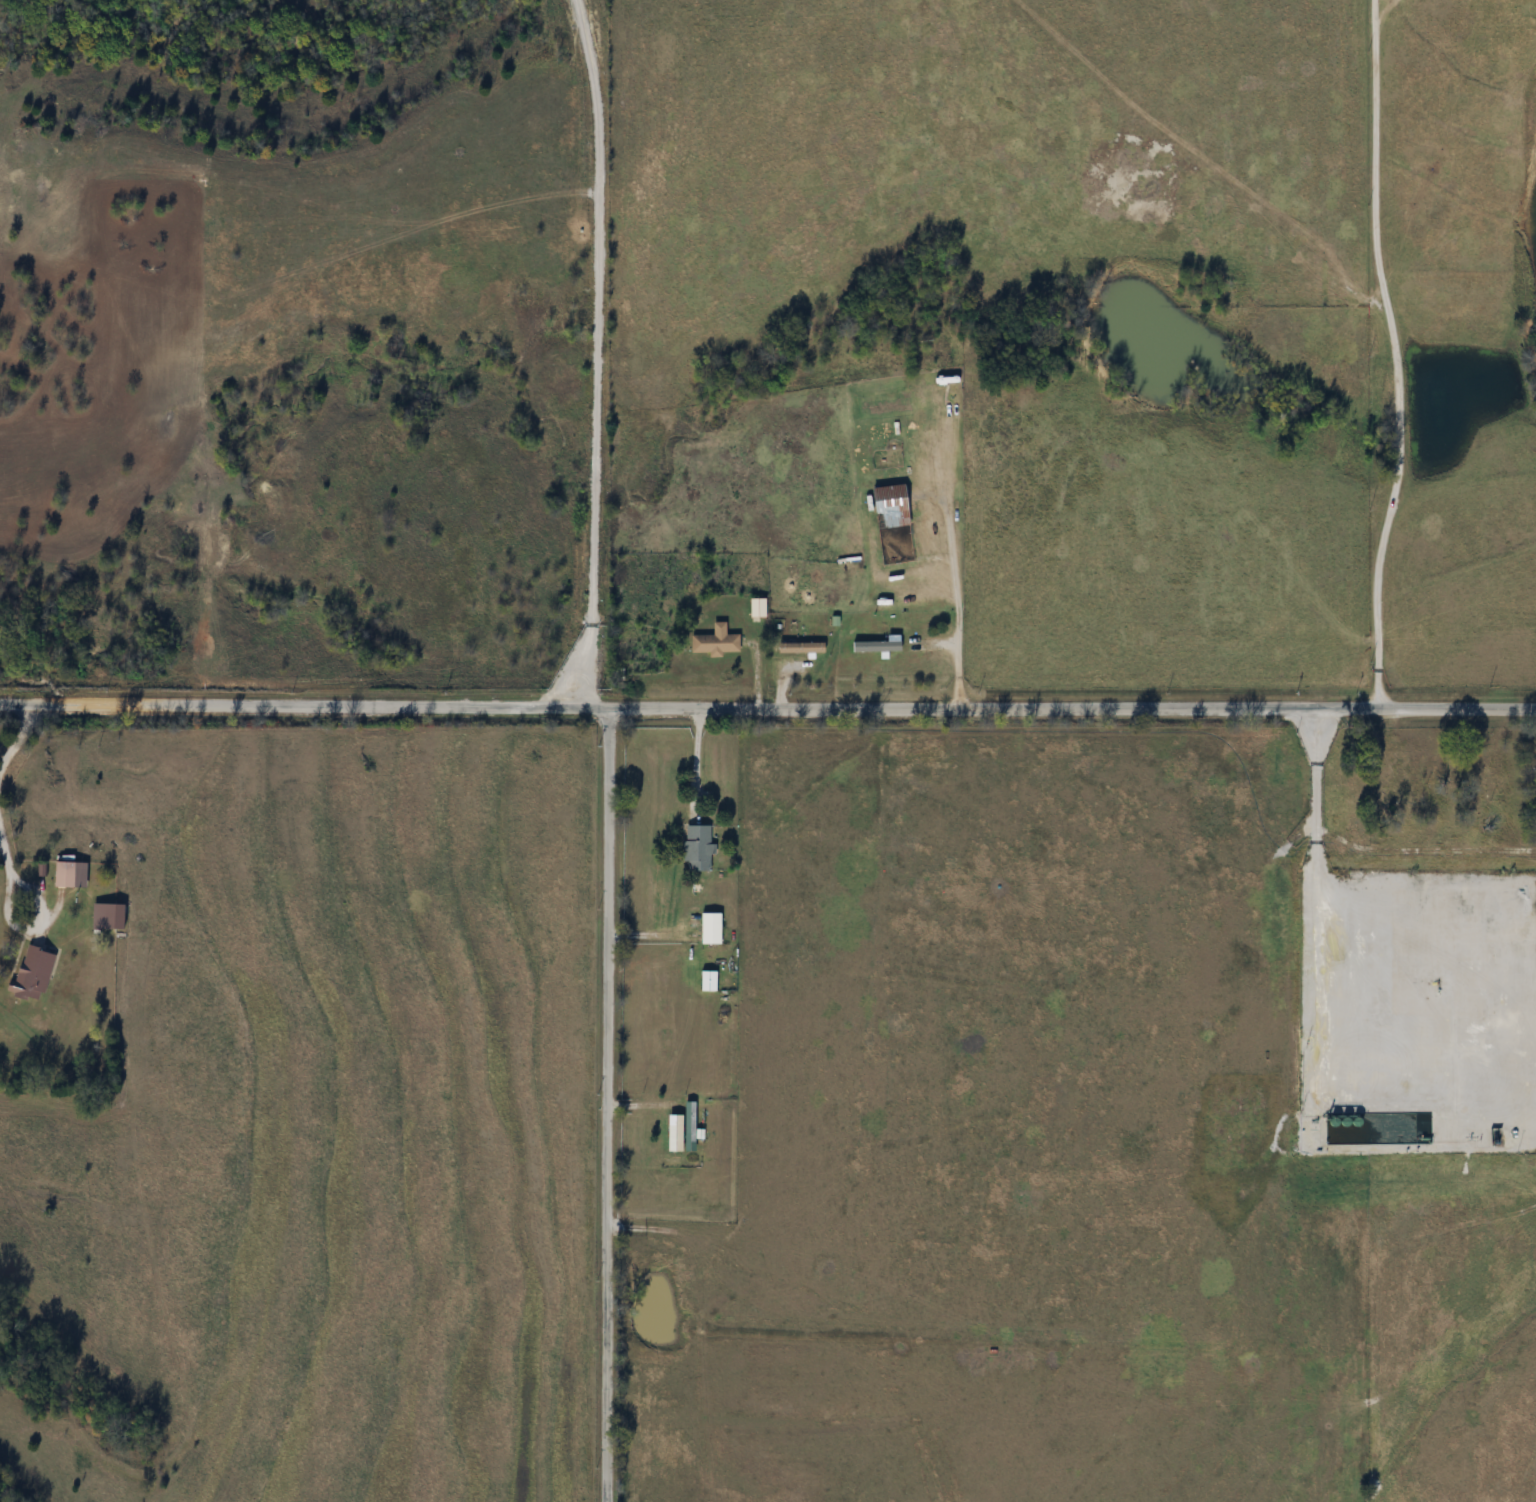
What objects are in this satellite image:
road: (1398, 356)
building: (891, 506)
building: (758, 607)
road: (957, 614)
building: (716, 644)
building: (877, 646)
building: (801, 647)
road: (767, 709)
road: (699, 764)
road: (2, 790)
building: (698, 849)
building: (71, 875)
road: (44, 908)
building: (711, 929)
building: (33, 974)
building: (709, 981)
road: (612, 1105)
building: (676, 1133)

